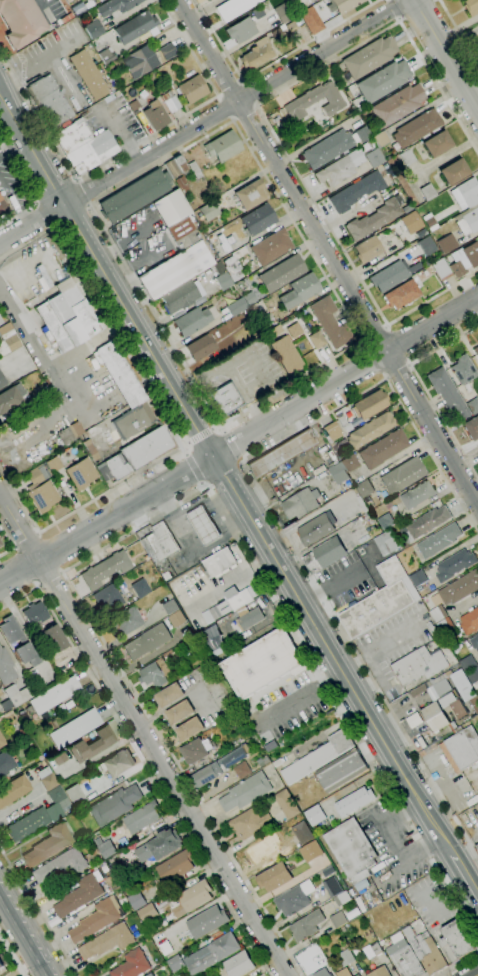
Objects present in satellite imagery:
building: (205, 0)
building: (207, 0)
building: (298, 3)
building: (343, 5)
building: (116, 6)
building: (470, 7)
building: (233, 8)
road: (43, 9)
building: (321, 10)
road: (417, 10)
road: (393, 11)
building: (284, 12)
building: (258, 13)
building: (311, 20)
building: (21, 22)
building: (135, 27)
building: (286, 27)
building: (93, 29)
building: (241, 30)
road: (459, 32)
parking lot: (48, 49)
building: (168, 51)
road: (446, 52)
building: (257, 54)
road: (40, 56)
building: (106, 56)
building: (368, 58)
building: (140, 61)
road: (271, 66)
building: (88, 75)
building: (153, 75)
road: (70, 76)
building: (383, 81)
road: (229, 87)
building: (192, 89)
road: (254, 92)
road: (3, 96)
building: (170, 101)
building: (314, 101)
building: (49, 102)
building: (397, 105)
road: (225, 109)
building: (150, 113)
road: (247, 116)
road: (205, 122)
road: (270, 126)
building: (416, 128)
building: (363, 134)
building: (72, 135)
building: (380, 138)
road: (12, 141)
building: (437, 143)
building: (223, 146)
road: (133, 148)
building: (327, 148)
building: (91, 152)
building: (406, 157)
building: (374, 158)
building: (175, 166)
building: (338, 169)
building: (195, 170)
building: (453, 171)
building: (181, 183)
road: (55, 190)
road: (29, 191)
road: (87, 191)
building: (356, 192)
building: (427, 192)
building: (465, 194)
building: (250, 195)
building: (134, 196)
building: (0, 198)
road: (13, 204)
building: (171, 207)
building: (0, 209)
building: (209, 211)
road: (40, 219)
building: (258, 220)
building: (373, 220)
building: (468, 220)
building: (409, 222)
building: (430, 222)
building: (182, 233)
building: (447, 243)
building: (427, 245)
building: (271, 247)
building: (368, 249)
road: (328, 250)
building: (471, 254)
building: (427, 262)
building: (235, 264)
building: (458, 268)
building: (441, 269)
building: (175, 270)
building: (282, 273)
building: (222, 275)
building: (388, 276)
road: (110, 279)
building: (299, 291)
building: (402, 294)
building: (179, 297)
building: (249, 298)
building: (239, 304)
building: (1, 310)
building: (67, 316)
building: (267, 320)
building: (1, 321)
building: (192, 321)
building: (329, 322)
building: (275, 331)
road: (376, 334)
building: (8, 339)
building: (315, 339)
road: (363, 340)
road: (399, 346)
building: (201, 347)
building: (476, 350)
building: (286, 354)
road: (375, 360)
road: (52, 364)
building: (463, 369)
road: (397, 371)
building: (121, 374)
road: (346, 377)
building: (2, 381)
road: (423, 388)
building: (448, 393)
building: (11, 398)
building: (226, 398)
building: (473, 405)
building: (362, 409)
road: (165, 416)
building: (133, 421)
building: (472, 427)
building: (75, 429)
building: (370, 430)
building: (332, 431)
building: (66, 434)
road: (201, 436)
road: (232, 444)
building: (383, 449)
building: (90, 450)
building: (283, 453)
building: (136, 454)
building: (350, 463)
building: (53, 464)
road: (193, 468)
building: (81, 473)
building: (338, 473)
road: (223, 474)
building: (403, 475)
building: (364, 488)
building: (41, 489)
building: (417, 495)
building: (301, 504)
road: (160, 512)
road: (272, 512)
road: (212, 517)
building: (387, 520)
road: (107, 521)
building: (428, 522)
building: (203, 525)
gas station: (203, 525)
building: (315, 531)
road: (27, 540)
road: (12, 541)
building: (161, 541)
building: (439, 541)
building: (1, 543)
building: (387, 543)
building: (0, 546)
road: (193, 552)
road: (49, 553)
building: (324, 555)
building: (219, 562)
building: (454, 565)
road: (27, 567)
building: (105, 569)
building: (418, 578)
road: (50, 580)
building: (140, 588)
building: (460, 588)
road: (19, 598)
building: (237, 598)
building: (108, 599)
building: (380, 600)
building: (170, 607)
building: (438, 614)
building: (176, 619)
building: (249, 619)
building: (126, 621)
building: (469, 622)
building: (445, 625)
building: (35, 627)
building: (212, 639)
building: (23, 641)
building: (147, 641)
building: (474, 642)
road: (331, 654)
building: (263, 664)
building: (418, 666)
building: (6, 668)
building: (470, 670)
building: (155, 672)
building: (449, 688)
building: (19, 694)
building: (54, 695)
building: (170, 695)
road: (301, 696)
building: (180, 712)
building: (443, 712)
building: (413, 720)
building: (75, 728)
building: (190, 729)
road: (143, 733)
building: (2, 741)
building: (91, 745)
building: (461, 749)
building: (195, 750)
building: (318, 757)
building: (59, 758)
building: (6, 763)
building: (117, 763)
building: (242, 770)
building: (341, 770)
building: (207, 775)
building: (477, 777)
building: (47, 779)
road: (154, 781)
building: (476, 788)
building: (13, 790)
building: (245, 792)
building: (56, 794)
building: (75, 795)
building: (354, 801)
building: (286, 804)
building: (114, 805)
building: (54, 812)
building: (314, 815)
building: (141, 818)
building: (248, 824)
building: (28, 825)
building: (48, 845)
building: (159, 846)
building: (476, 848)
building: (106, 849)
building: (351, 850)
building: (310, 852)
building: (60, 866)
building: (175, 867)
road: (464, 876)
building: (273, 877)
building: (331, 886)
building: (78, 896)
building: (341, 898)
building: (193, 899)
building: (294, 899)
building: (137, 900)
road: (37, 912)
building: (147, 912)
building: (342, 917)
building: (95, 921)
building: (208, 921)
building: (306, 925)
road: (28, 927)
road: (21, 940)
building: (107, 941)
building: (456, 941)
building: (375, 949)
building: (425, 950)
building: (212, 954)
road: (11, 957)
building: (308, 958)
building: (345, 958)
building: (405, 959)
building: (2, 962)
building: (176, 963)
building: (131, 964)
building: (238, 964)
road: (458, 964)
building: (380, 972)
building: (322, 973)
building: (343, 973)
building: (182, 974)
building: (357, 975)

